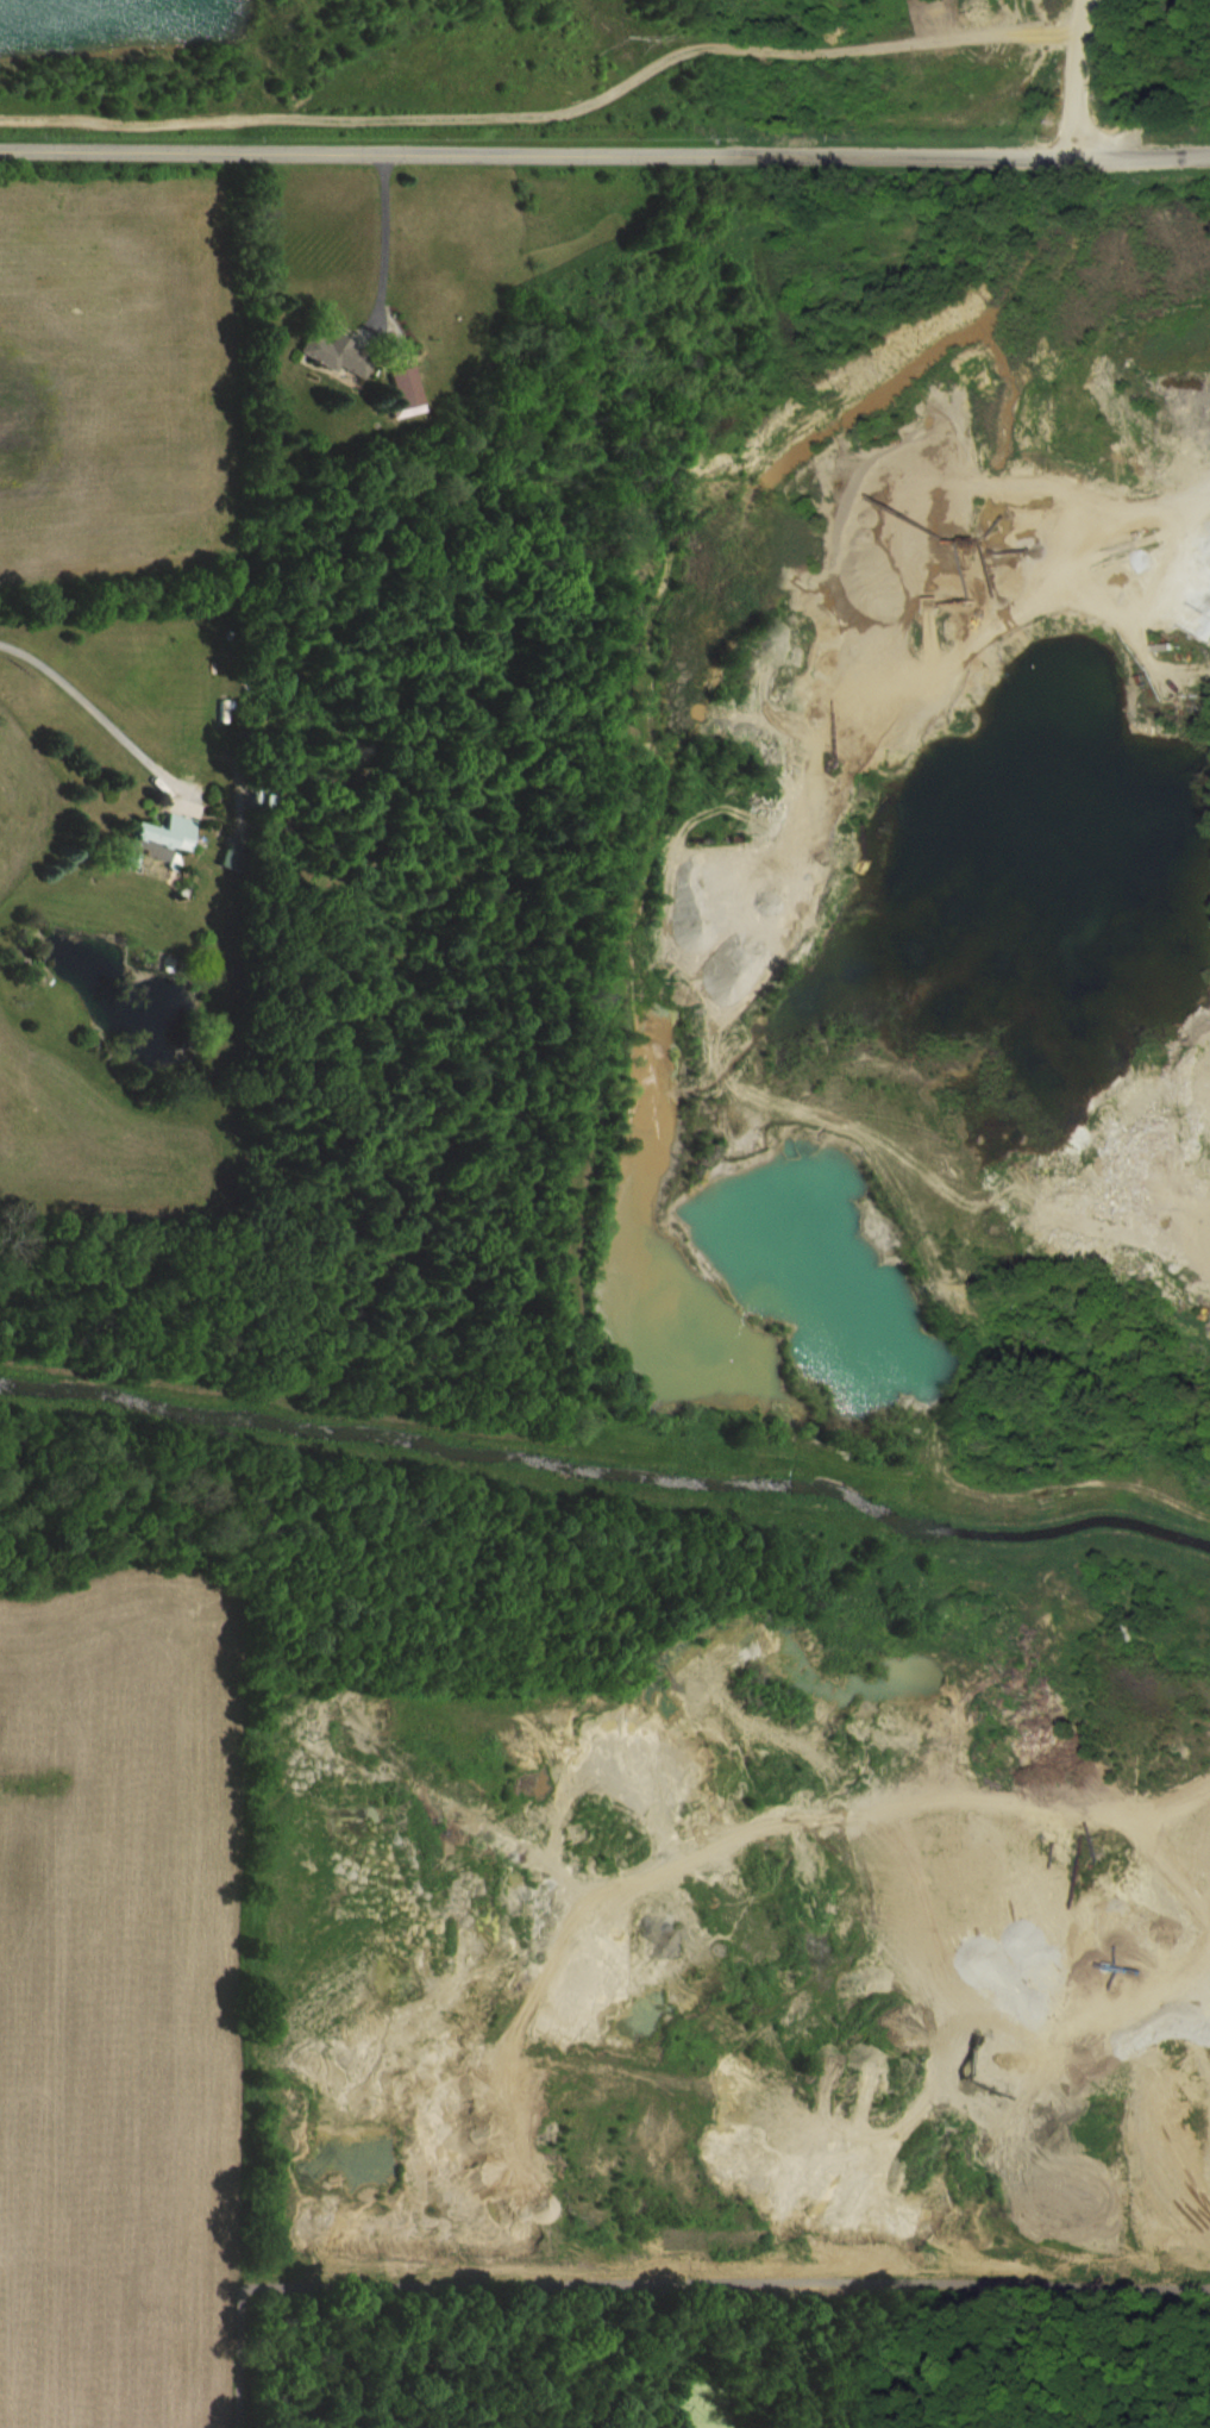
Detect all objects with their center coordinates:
quarry: (596, 43)
road: (1086, 77)
road: (554, 118)
road: (604, 154)
road: (382, 234)
building: (336, 352)
building: (403, 392)
road: (1151, 512)
road: (106, 715)
building: (170, 834)

